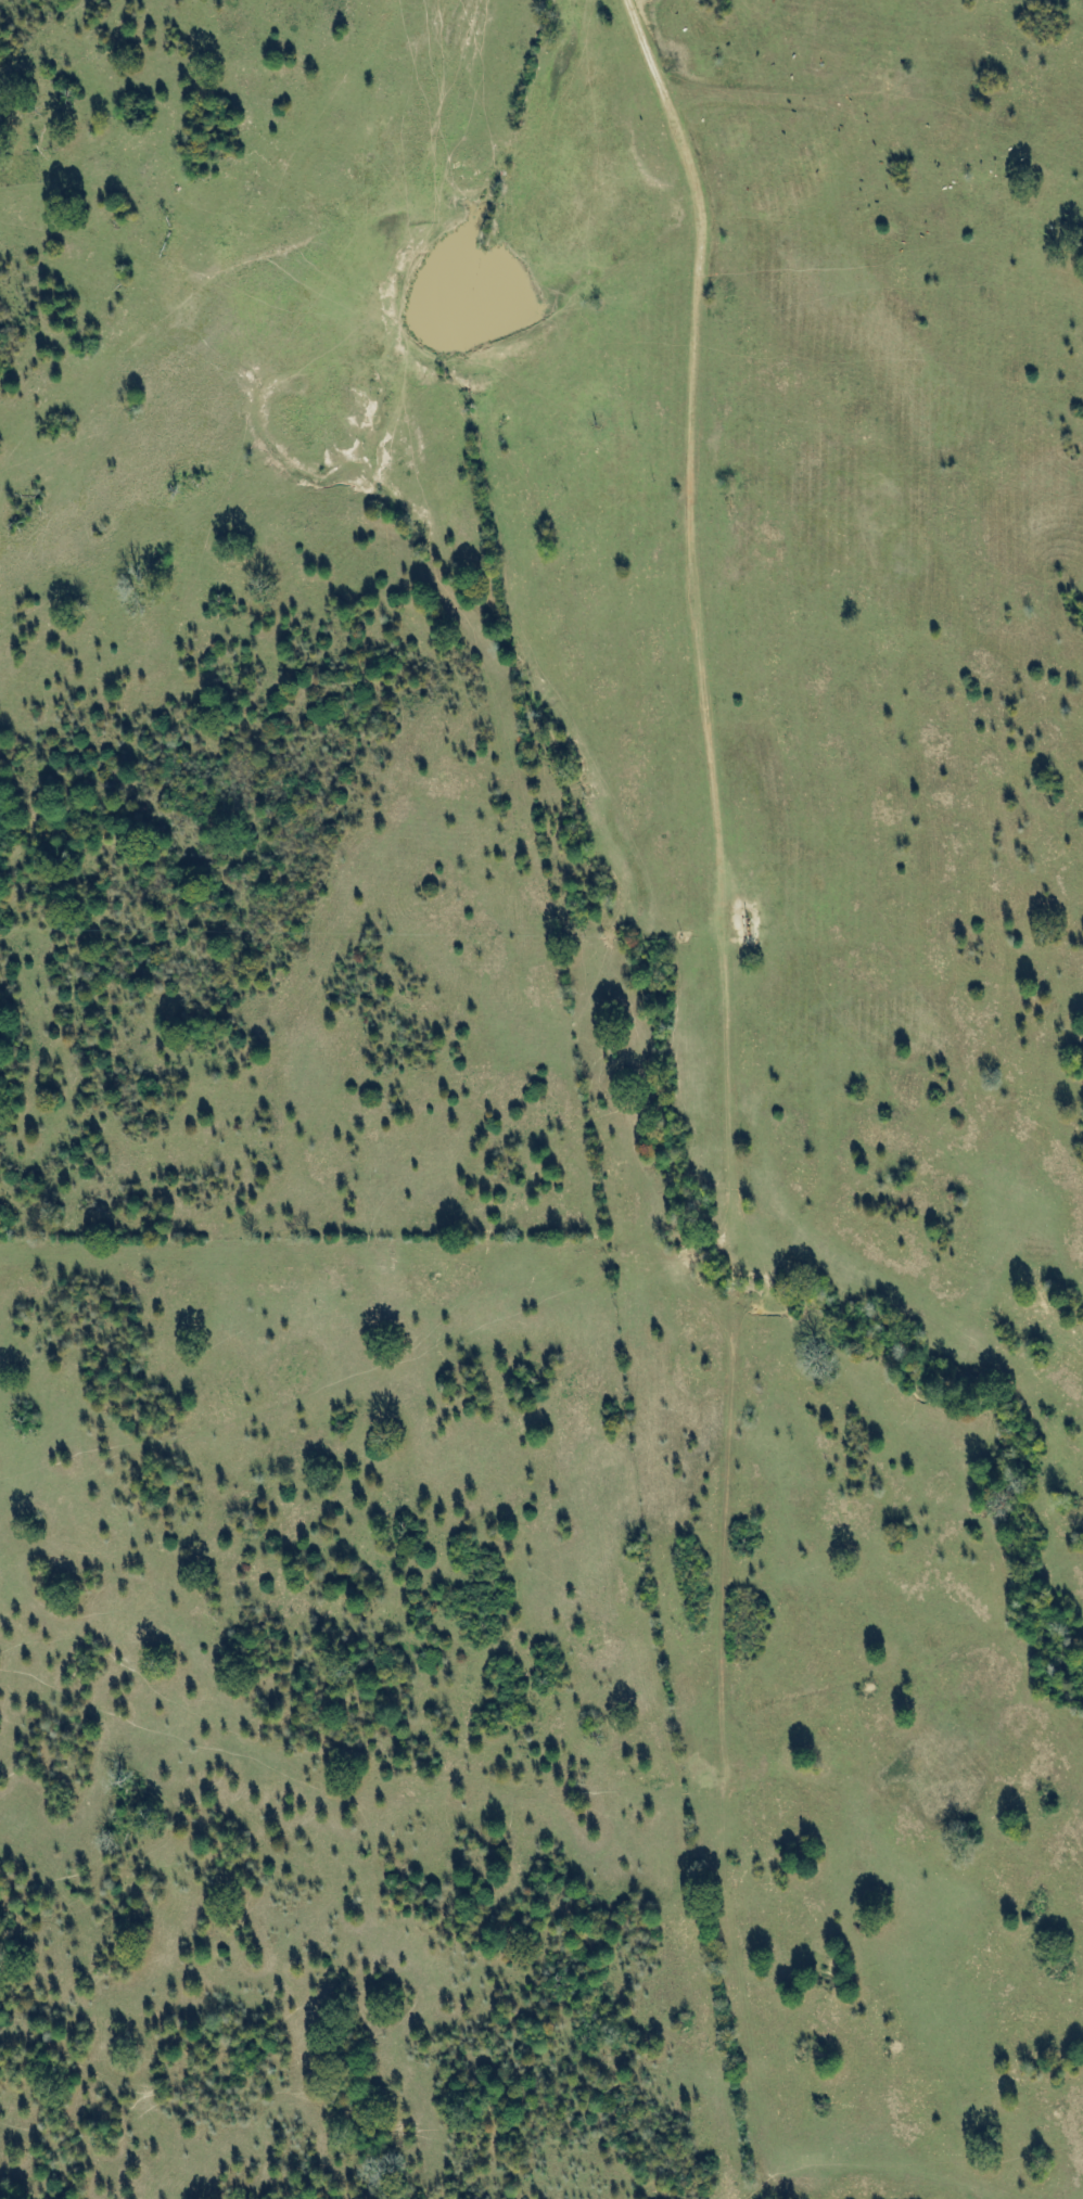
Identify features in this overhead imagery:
road: (716, 829)

